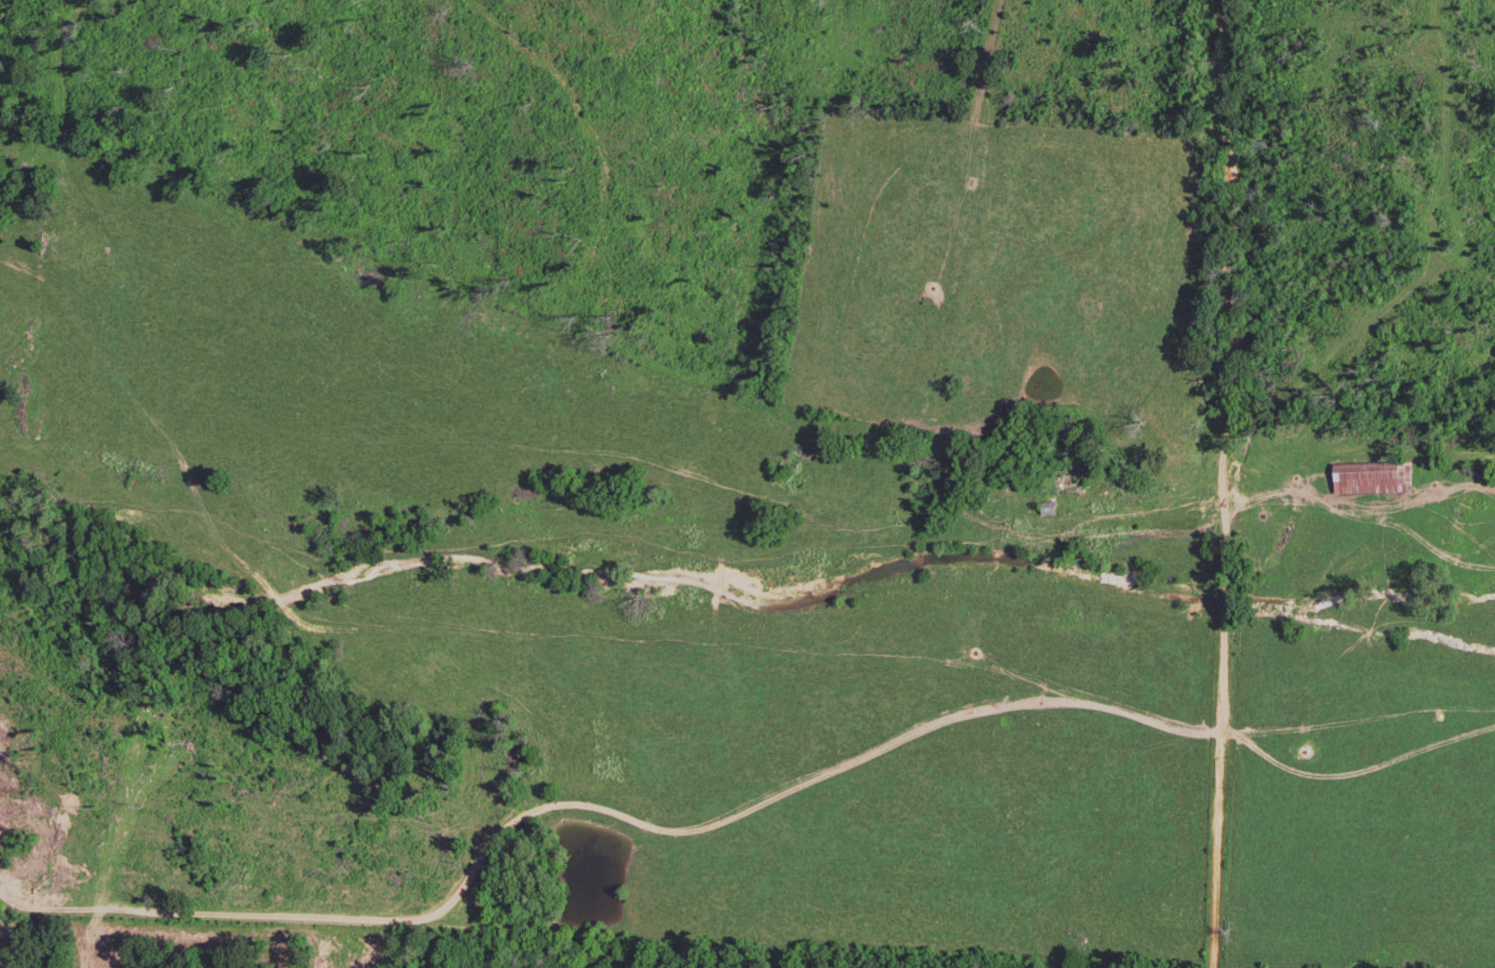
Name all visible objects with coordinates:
road: (1231, 483)

